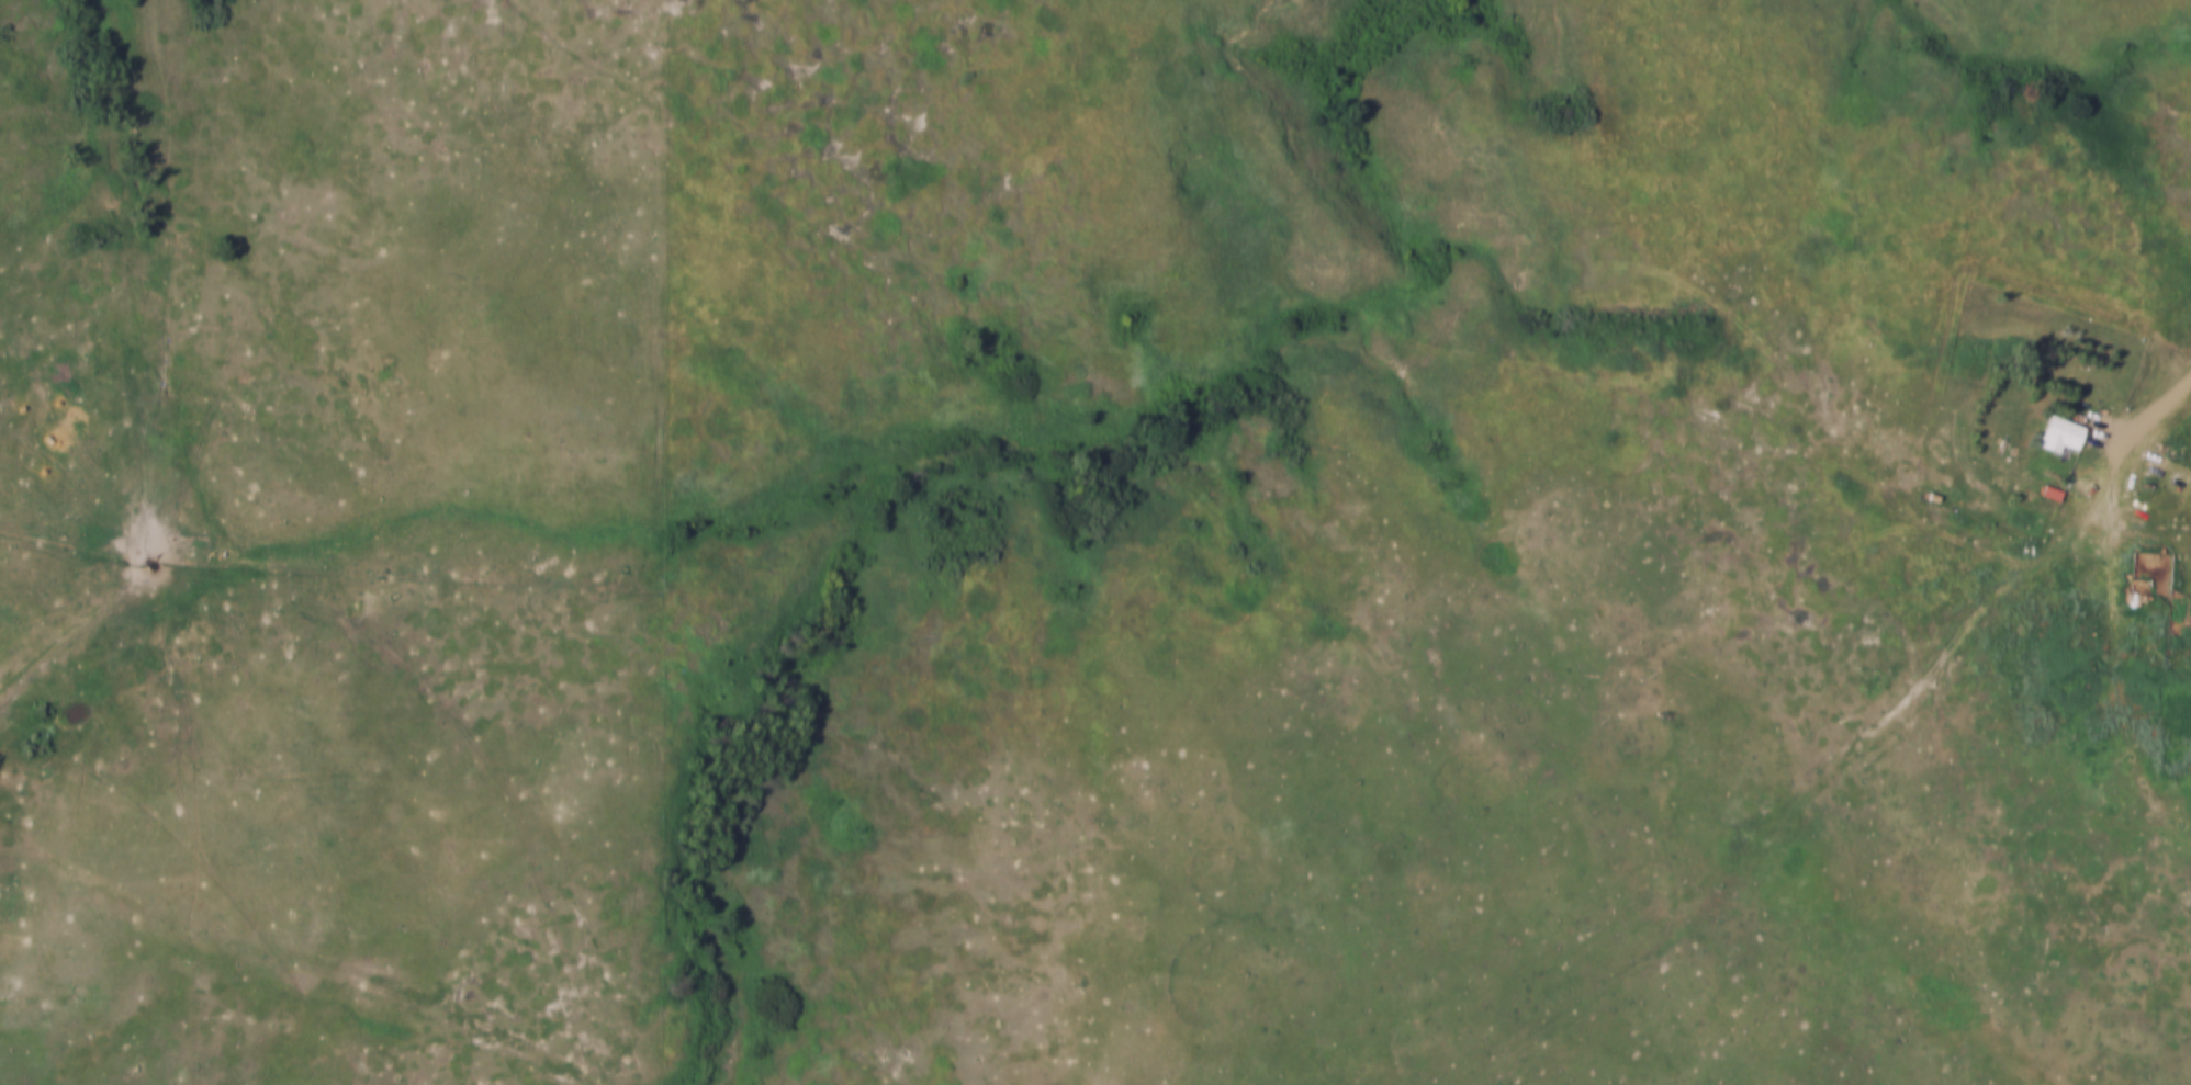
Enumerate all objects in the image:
road: (2150, 416)
building: (2053, 433)

